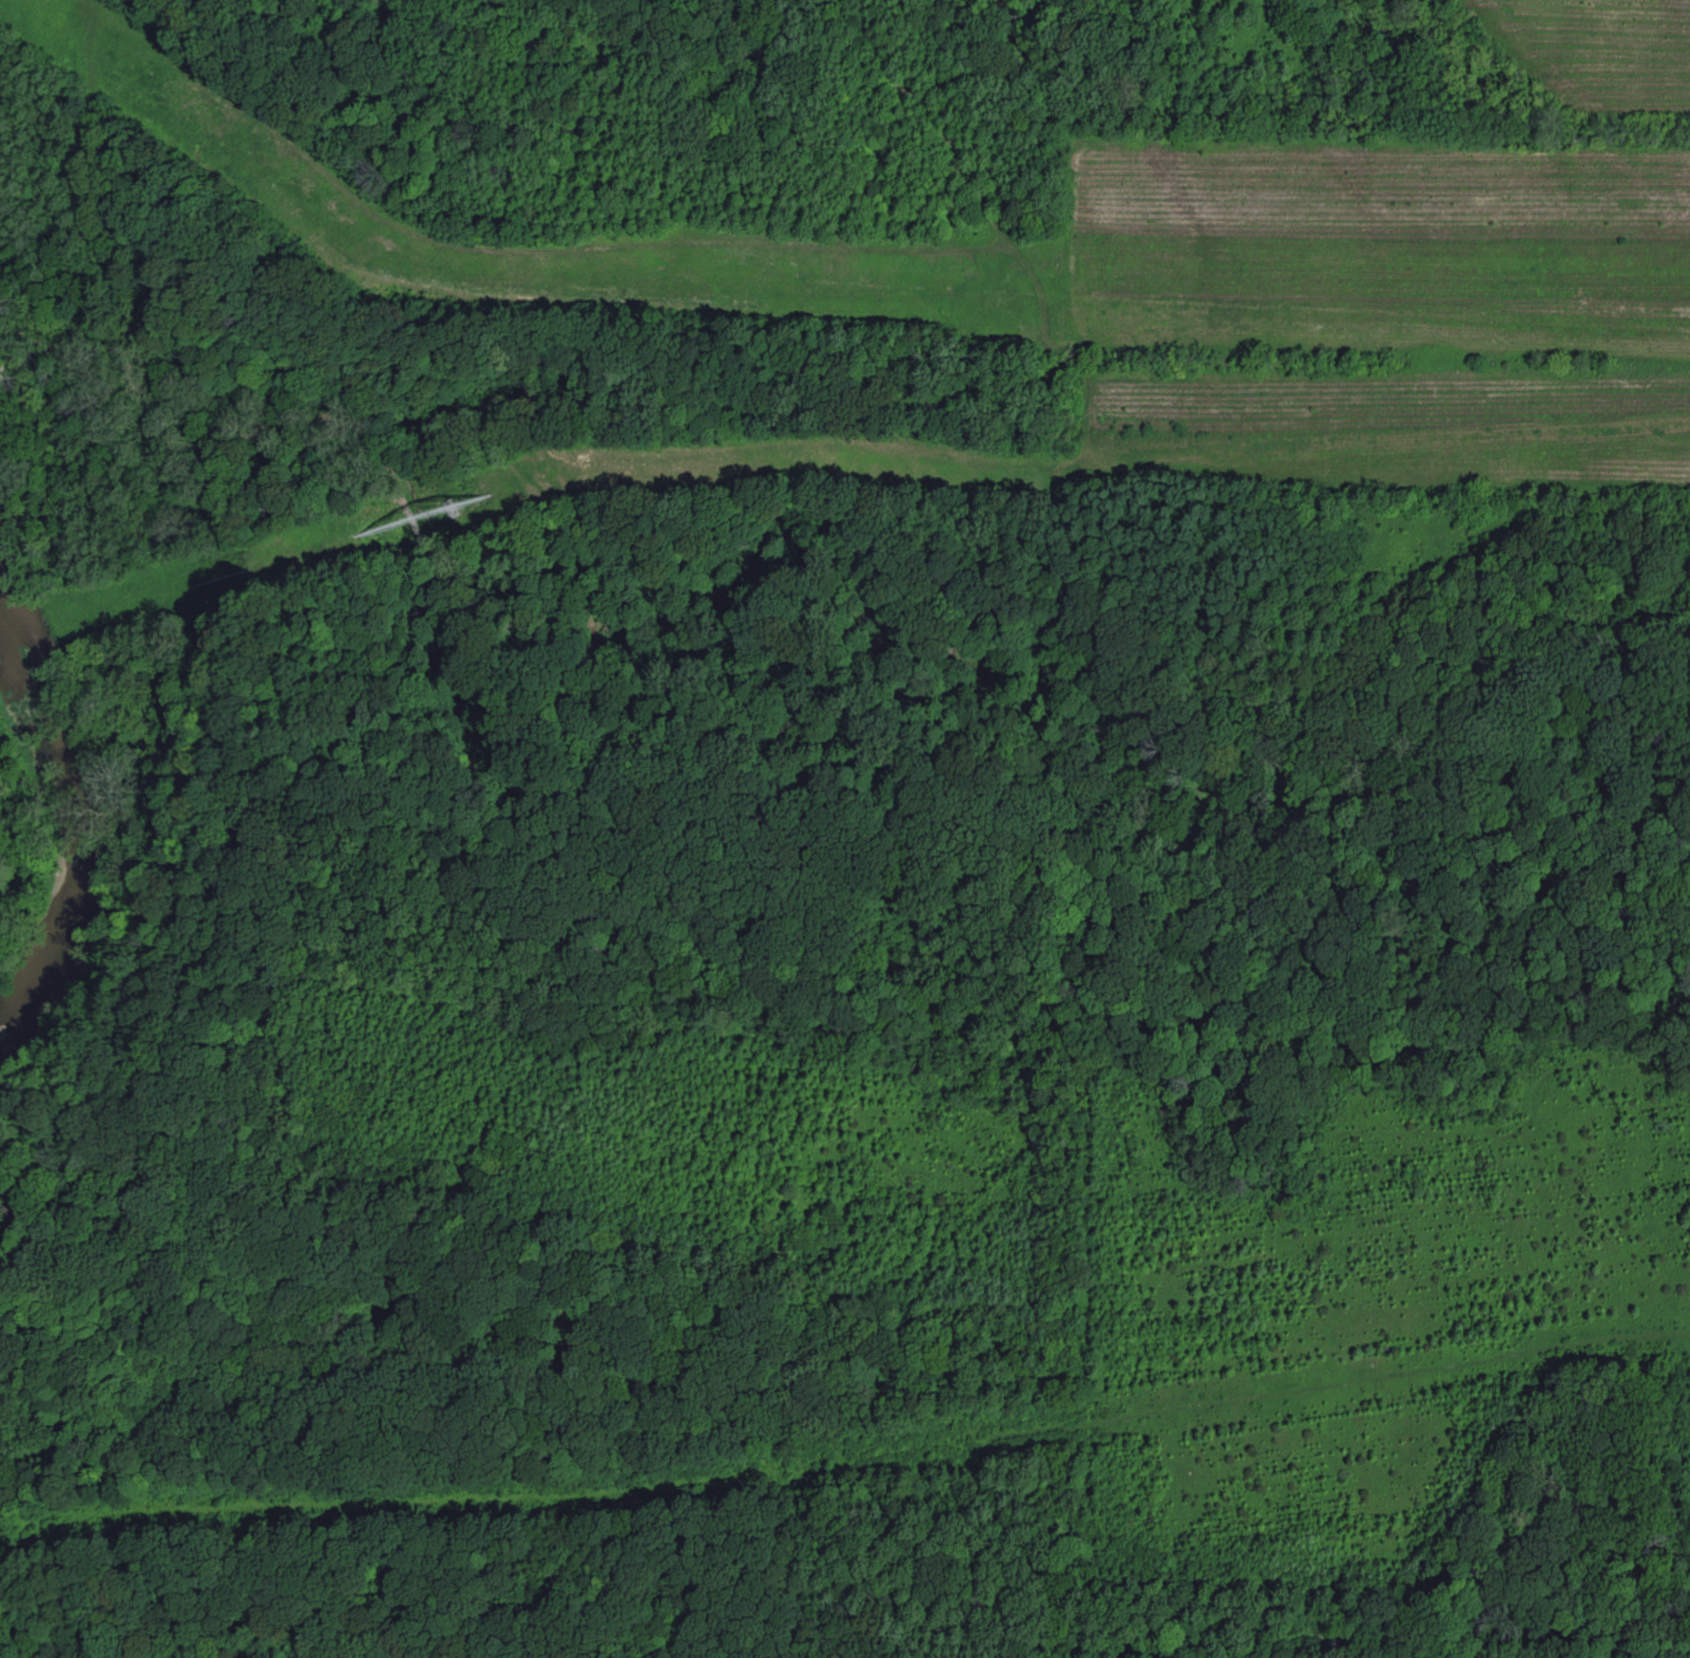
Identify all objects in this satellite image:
river: (104, 815)

